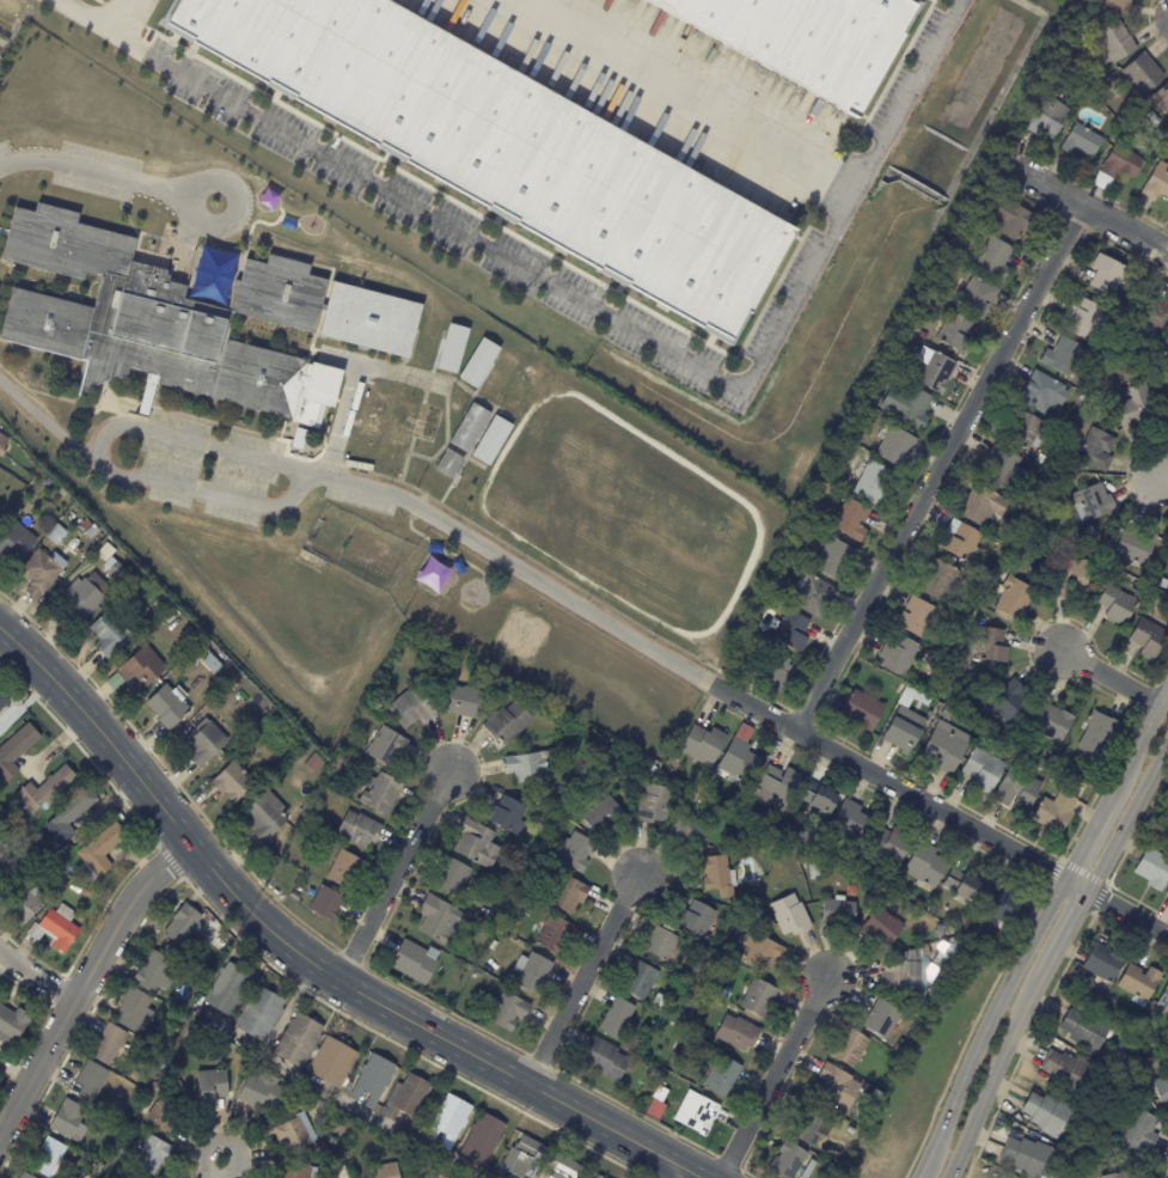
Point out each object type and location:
building: (1117, 4)
road: (115, 16)
building: (1077, 26)
building: (813, 39)
building: (1113, 41)
building: (1142, 72)
building: (1072, 87)
road: (680, 98)
building: (1162, 98)
building: (1045, 115)
building: (1081, 141)
building: (510, 146)
parking lot: (5, 149)
building: (1115, 166)
road: (96, 171)
parking lot: (94, 172)
building: (1156, 183)
road: (234, 195)
road: (1093, 212)
building: (980, 218)
building: (1005, 219)
building: (993, 258)
building: (1108, 275)
building: (934, 291)
building: (976, 297)
building: (936, 304)
road: (587, 305)
building: (1155, 315)
building: (157, 316)
building: (1081, 318)
building: (368, 319)
building: (953, 331)
building: (922, 335)
building: (457, 348)
building: (1060, 355)
road: (337, 362)
building: (482, 362)
building: (932, 371)
building: (504, 377)
road: (354, 378)
building: (1036, 391)
building: (527, 392)
building: (1082, 396)
building: (1093, 396)
building: (903, 402)
building: (1135, 408)
building: (1101, 410)
building: (378, 416)
building: (875, 416)
building: (1166, 416)
road: (47, 423)
building: (405, 425)
building: (472, 428)
building: (1022, 429)
building: (432, 432)
building: (2, 439)
building: (495, 441)
building: (893, 445)
building: (1093, 450)
building: (1038, 458)
road: (96, 463)
building: (390, 463)
building: (452, 464)
building: (1001, 466)
building: (1062, 466)
road: (938, 468)
parking lot: (206, 469)
building: (44, 472)
building: (49, 481)
road: (1167, 482)
building: (872, 483)
building: (65, 490)
parking lot: (356, 501)
building: (1090, 502)
building: (980, 506)
building: (850, 520)
building: (87, 524)
building: (96, 530)
building: (57, 533)
building: (17, 541)
building: (956, 542)
building: (1135, 547)
building: (109, 550)
building: (831, 560)
road: (512, 564)
building: (121, 572)
building: (41, 573)
building: (1064, 578)
building: (934, 580)
building: (1163, 584)
building: (812, 597)
building: (1011, 599)
building: (84, 602)
building: (1113, 602)
building: (1166, 614)
building: (915, 616)
building: (789, 631)
building: (112, 633)
building: (1148, 637)
building: (946, 646)
building: (989, 646)
building: (208, 648)
building: (898, 654)
building: (215, 661)
building: (145, 666)
building: (771, 671)
road: (1113, 678)
building: (118, 682)
building: (907, 696)
building: (4, 701)
building: (459, 702)
building: (1007, 702)
building: (170, 706)
building: (374, 707)
building: (405, 707)
building: (860, 710)
building: (946, 714)
building: (507, 722)
building: (1048, 724)
building: (903, 731)
building: (1095, 736)
road: (1139, 740)
building: (207, 744)
building: (702, 745)
building: (381, 746)
building: (943, 747)
building: (17, 752)
building: (302, 755)
building: (738, 759)
building: (588, 765)
building: (525, 767)
building: (979, 770)
building: (1048, 770)
road: (887, 781)
building: (236, 783)
building: (49, 788)
building: (773, 788)
building: (1017, 789)
building: (378, 795)
building: (818, 800)
building: (652, 805)
building: (1053, 812)
building: (73, 813)
building: (1164, 813)
building: (268, 816)
building: (504, 816)
building: (601, 817)
road: (1126, 817)
building: (771, 822)
building: (848, 822)
building: (356, 830)
building: (687, 830)
building: (1156, 831)
building: (791, 832)
road: (1088, 836)
building: (472, 846)
building: (886, 847)
building: (102, 850)
building: (575, 852)
building: (924, 866)
building: (520, 868)
building: (808, 868)
building: (1152, 868)
building: (341, 871)
building: (4, 874)
building: (714, 875)
building: (29, 877)
road: (392, 877)
building: (452, 878)
building: (887, 883)
building: (108, 885)
road: (1076, 885)
building: (74, 886)
building: (962, 887)
building: (296, 891)
building: (1167, 893)
building: (567, 895)
building: (292, 897)
building: (304, 897)
building: (745, 902)
building: (25, 903)
building: (324, 903)
building: (918, 903)
building: (514, 907)
building: (998, 907)
road: (1127, 914)
building: (837, 915)
building: (788, 916)
building: (695, 920)
building: (436, 921)
building: (185, 924)
building: (57, 928)
building: (880, 929)
road: (1064, 934)
building: (552, 935)
building: (500, 936)
building: (660, 944)
building: (762, 952)
building: (947, 954)
road: (306, 959)
building: (1102, 960)
building: (414, 963)
building: (154, 972)
building: (528, 973)
road: (36, 976)
building: (473, 976)
building: (904, 977)
road: (582, 978)
road: (85, 981)
building: (638, 981)
building: (1137, 983)
building: (666, 985)
building: (232, 989)
building: (723, 995)
building: (756, 997)
building: (1163, 999)
building: (687, 1006)
building: (137, 1008)
road: (287, 1008)
building: (507, 1012)
building: (171, 1013)
building: (263, 1013)
building: (614, 1018)
building: (879, 1020)
building: (16, 1023)
road: (985, 1025)
building: (1084, 1030)
building: (1146, 1031)
building: (698, 1033)
building: (736, 1036)
building: (301, 1039)
building: (111, 1043)
building: (1152, 1046)
building: (849, 1048)
building: (898, 1048)
building: (604, 1061)
building: (336, 1063)
building: (1064, 1070)
building: (655, 1073)
road: (992, 1075)
building: (721, 1076)
building: (135, 1078)
road: (772, 1078)
building: (377, 1080)
building: (94, 1081)
building: (350, 1086)
building: (213, 1087)
building: (834, 1087)
building: (1161, 1090)
building: (265, 1092)
building: (658, 1094)
building: (876, 1095)
building: (866, 1097)
building: (302, 1098)
road: (342, 1098)
building: (408, 1099)
building: (654, 1111)
building: (1045, 1113)
building: (171, 1115)
building: (696, 1115)
building: (72, 1121)
building: (451, 1121)
building: (806, 1125)
building: (851, 1130)
building: (299, 1133)
building: (1133, 1134)
building: (483, 1139)
building: (155, 1154)
building: (1025, 1156)
building: (53, 1158)
building: (524, 1158)
building: (784, 1161)
building: (341, 1167)
building: (567, 1167)
road: (215, 1168)
building: (385, 1170)
building: (299, 1171)
building: (444, 1173)
road: (681, 1173)
building: (137, 1174)
building: (1113, 1174)
building: (29, 1176)
building: (599, 1177)

